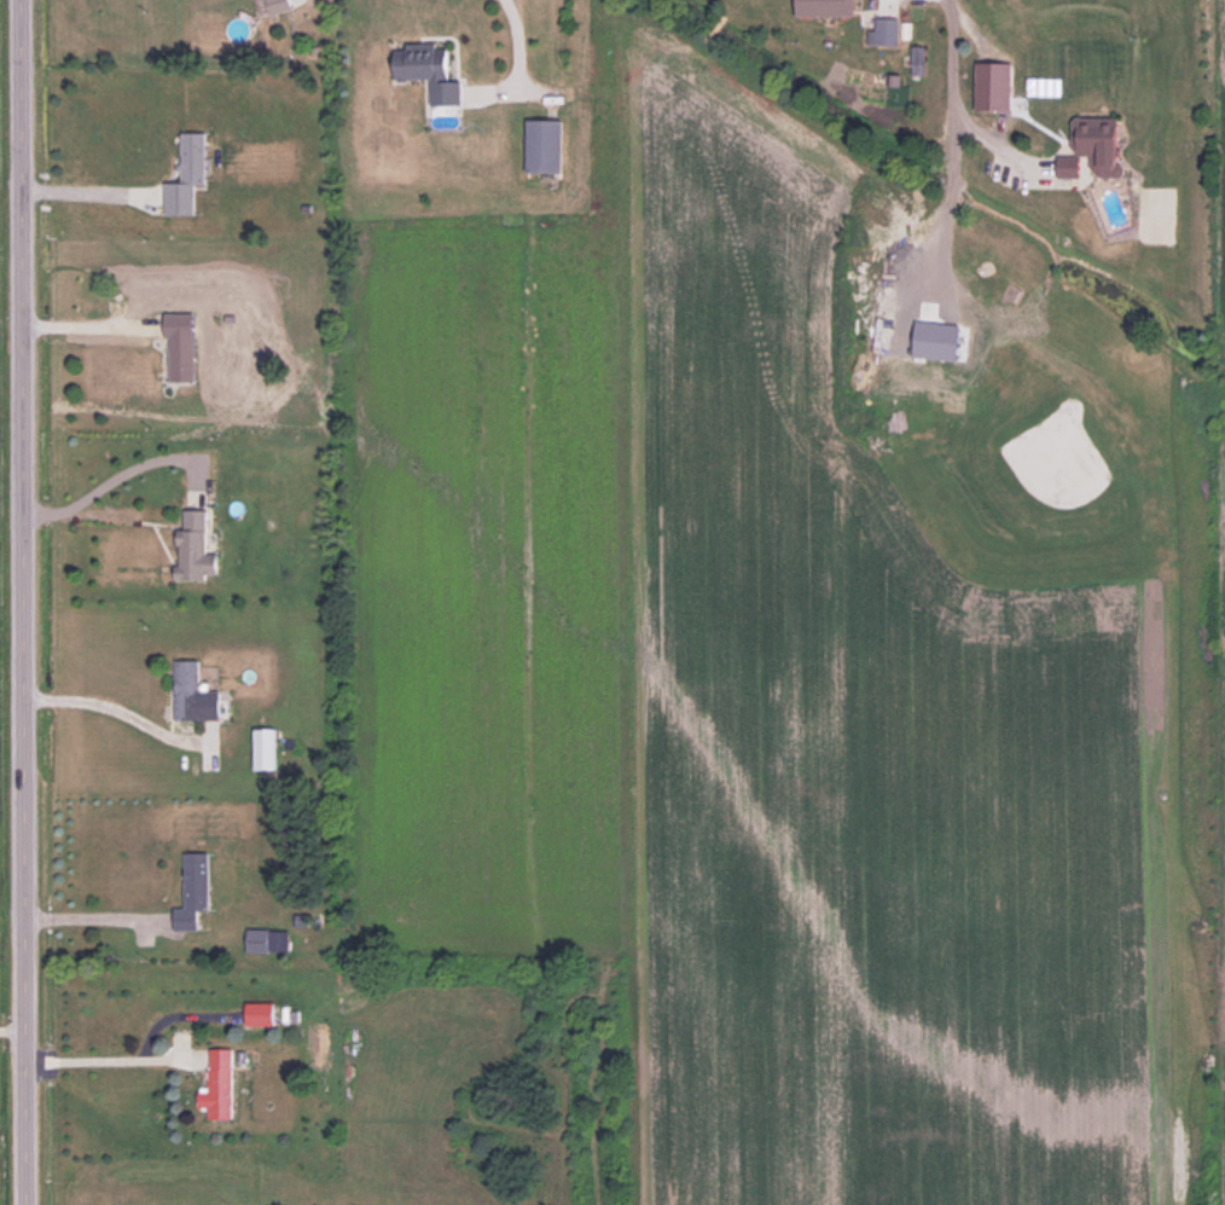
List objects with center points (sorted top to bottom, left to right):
building: (277, 6)
building: (824, 7)
building: (884, 33)
building: (916, 62)
road: (513, 65)
building: (426, 70)
building: (982, 88)
road: (948, 92)
building: (542, 146)
building: (1091, 149)
building: (185, 176)
road: (87, 190)
road: (86, 324)
building: (181, 359)
road: (118, 471)
building: (193, 546)
road: (18, 602)
building: (191, 694)
road: (115, 711)
building: (192, 892)
road: (92, 916)
building: (255, 940)
building: (259, 1015)
road: (10, 1030)
road: (110, 1059)
building: (219, 1084)

